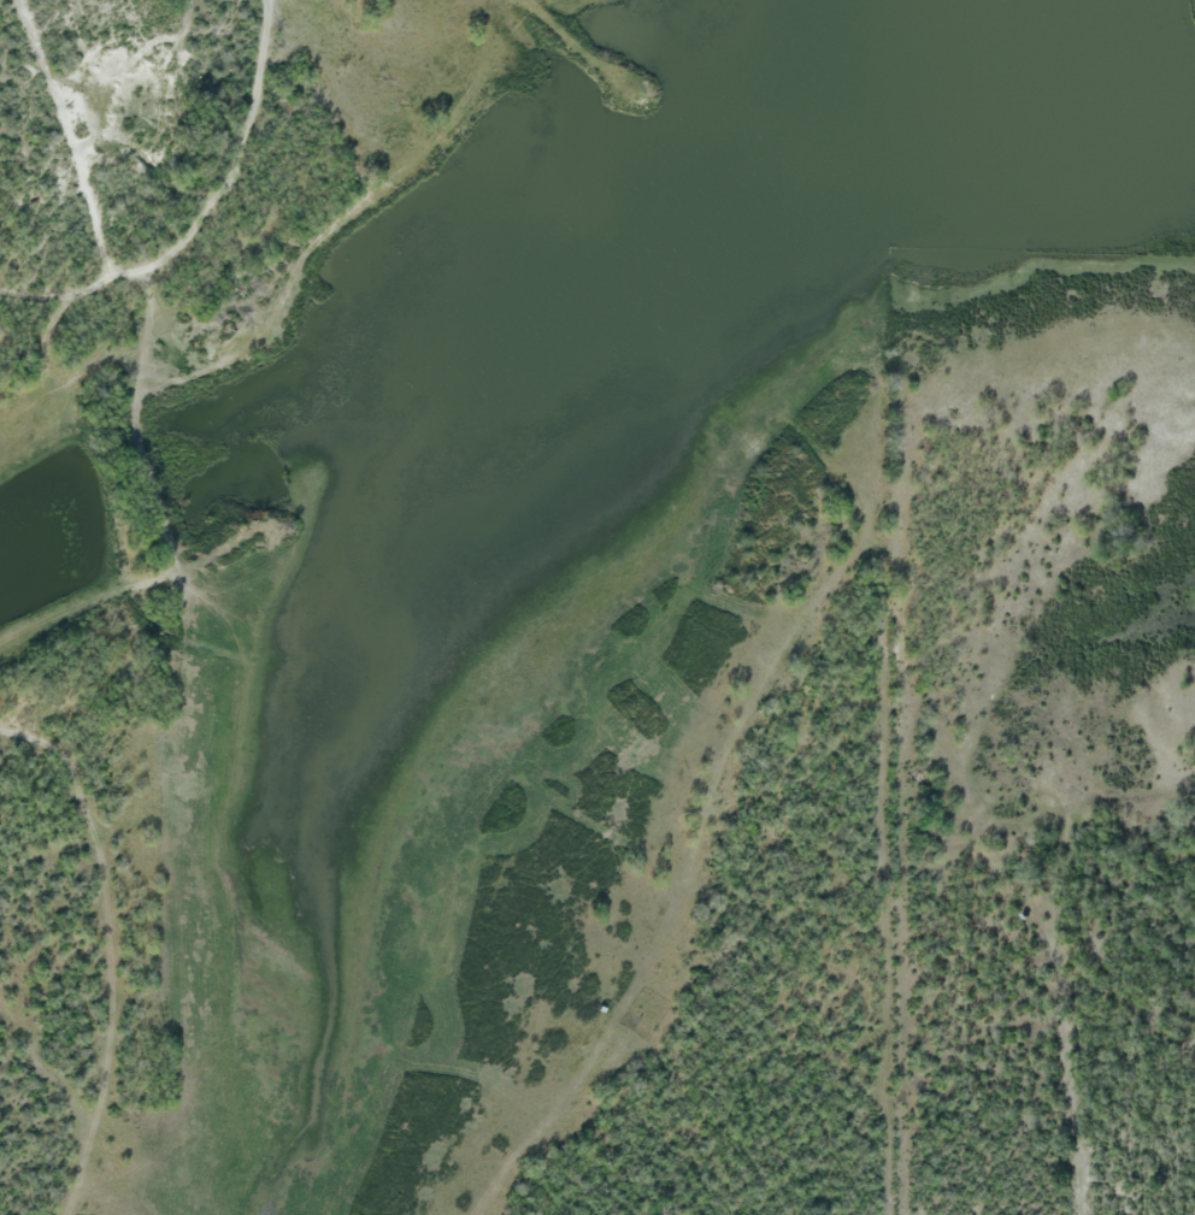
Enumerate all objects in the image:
river: (1194, 20)
river: (514, 455)

